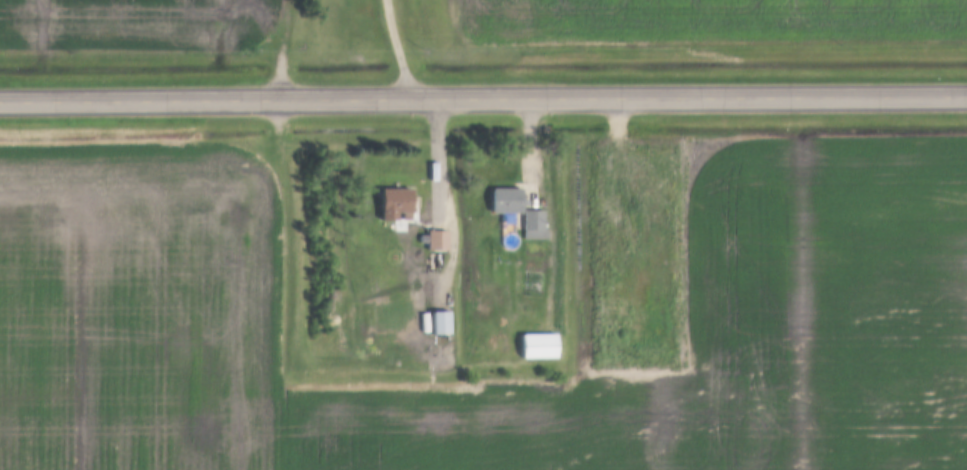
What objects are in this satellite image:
crop: (704, 21)
crop: (133, 23)
road: (394, 49)
road: (483, 98)
road: (435, 160)
building: (506, 199)
building: (394, 203)
building: (533, 219)
building: (437, 239)
crop: (769, 294)
building: (440, 321)
building: (538, 344)

